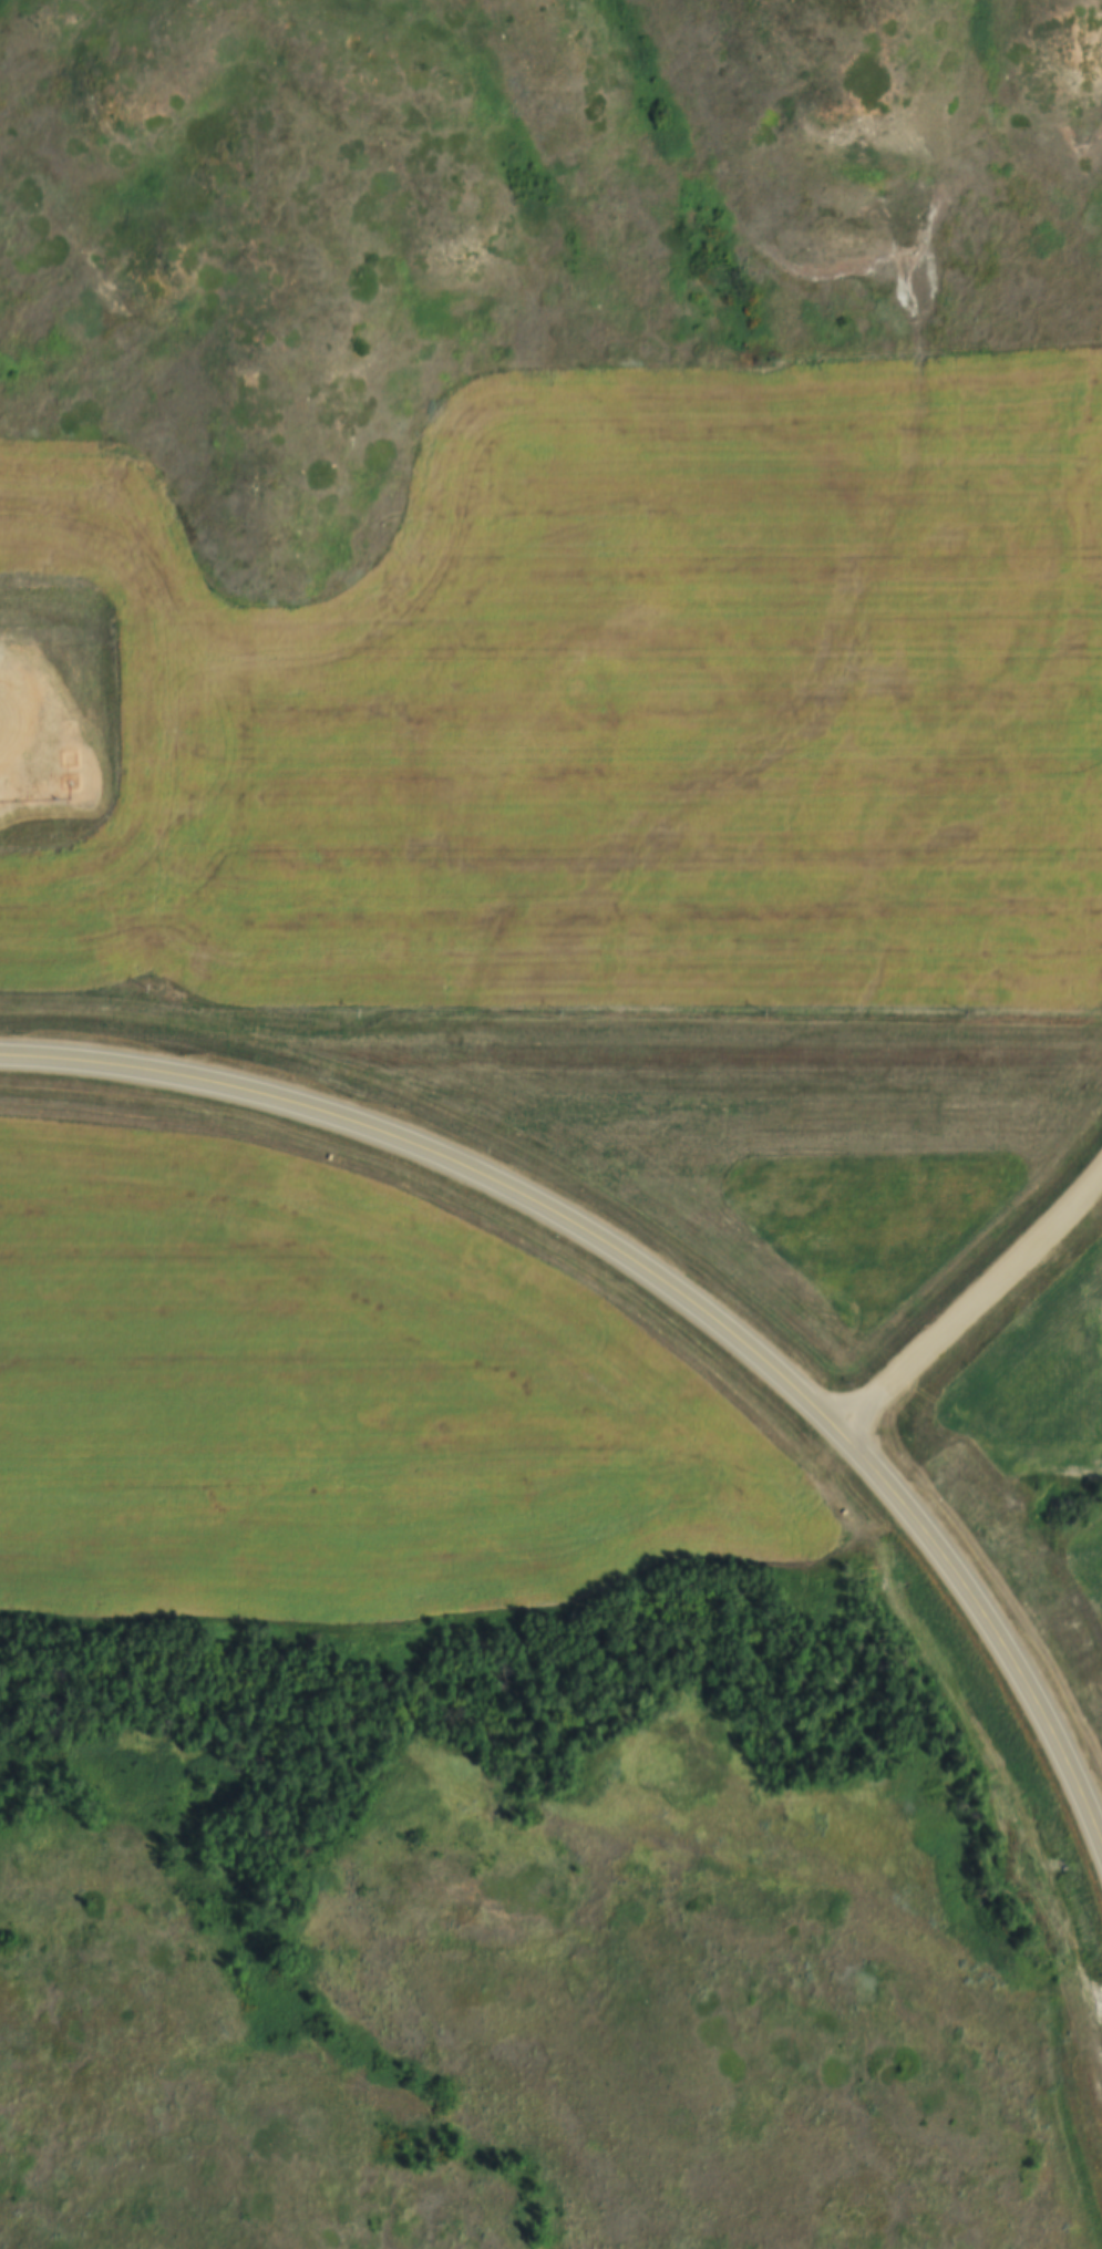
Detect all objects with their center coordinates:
road: (676, 1294)
road: (972, 1300)

